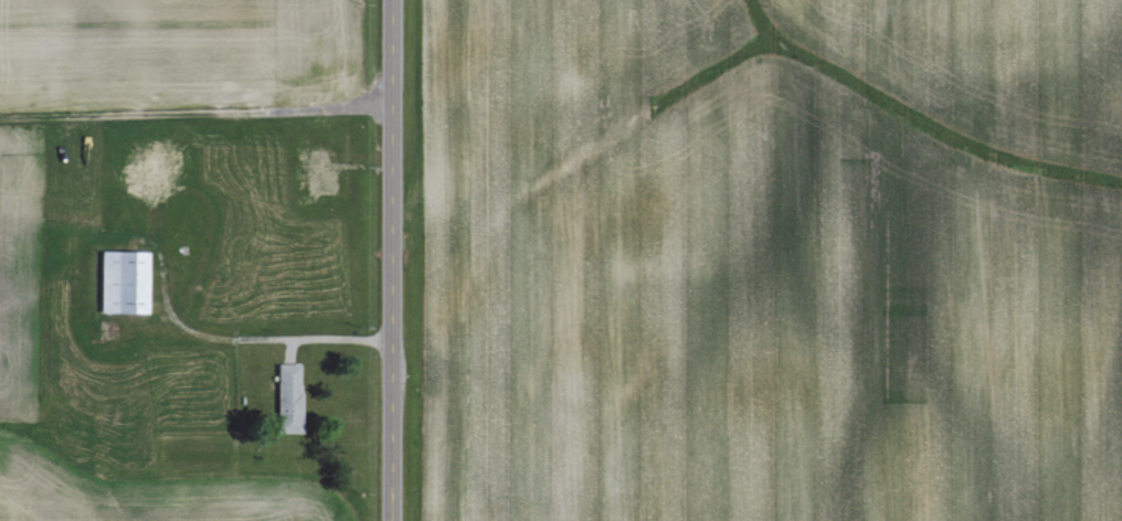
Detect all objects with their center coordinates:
road: (394, 259)
building: (126, 281)
road: (250, 339)
building: (290, 397)

